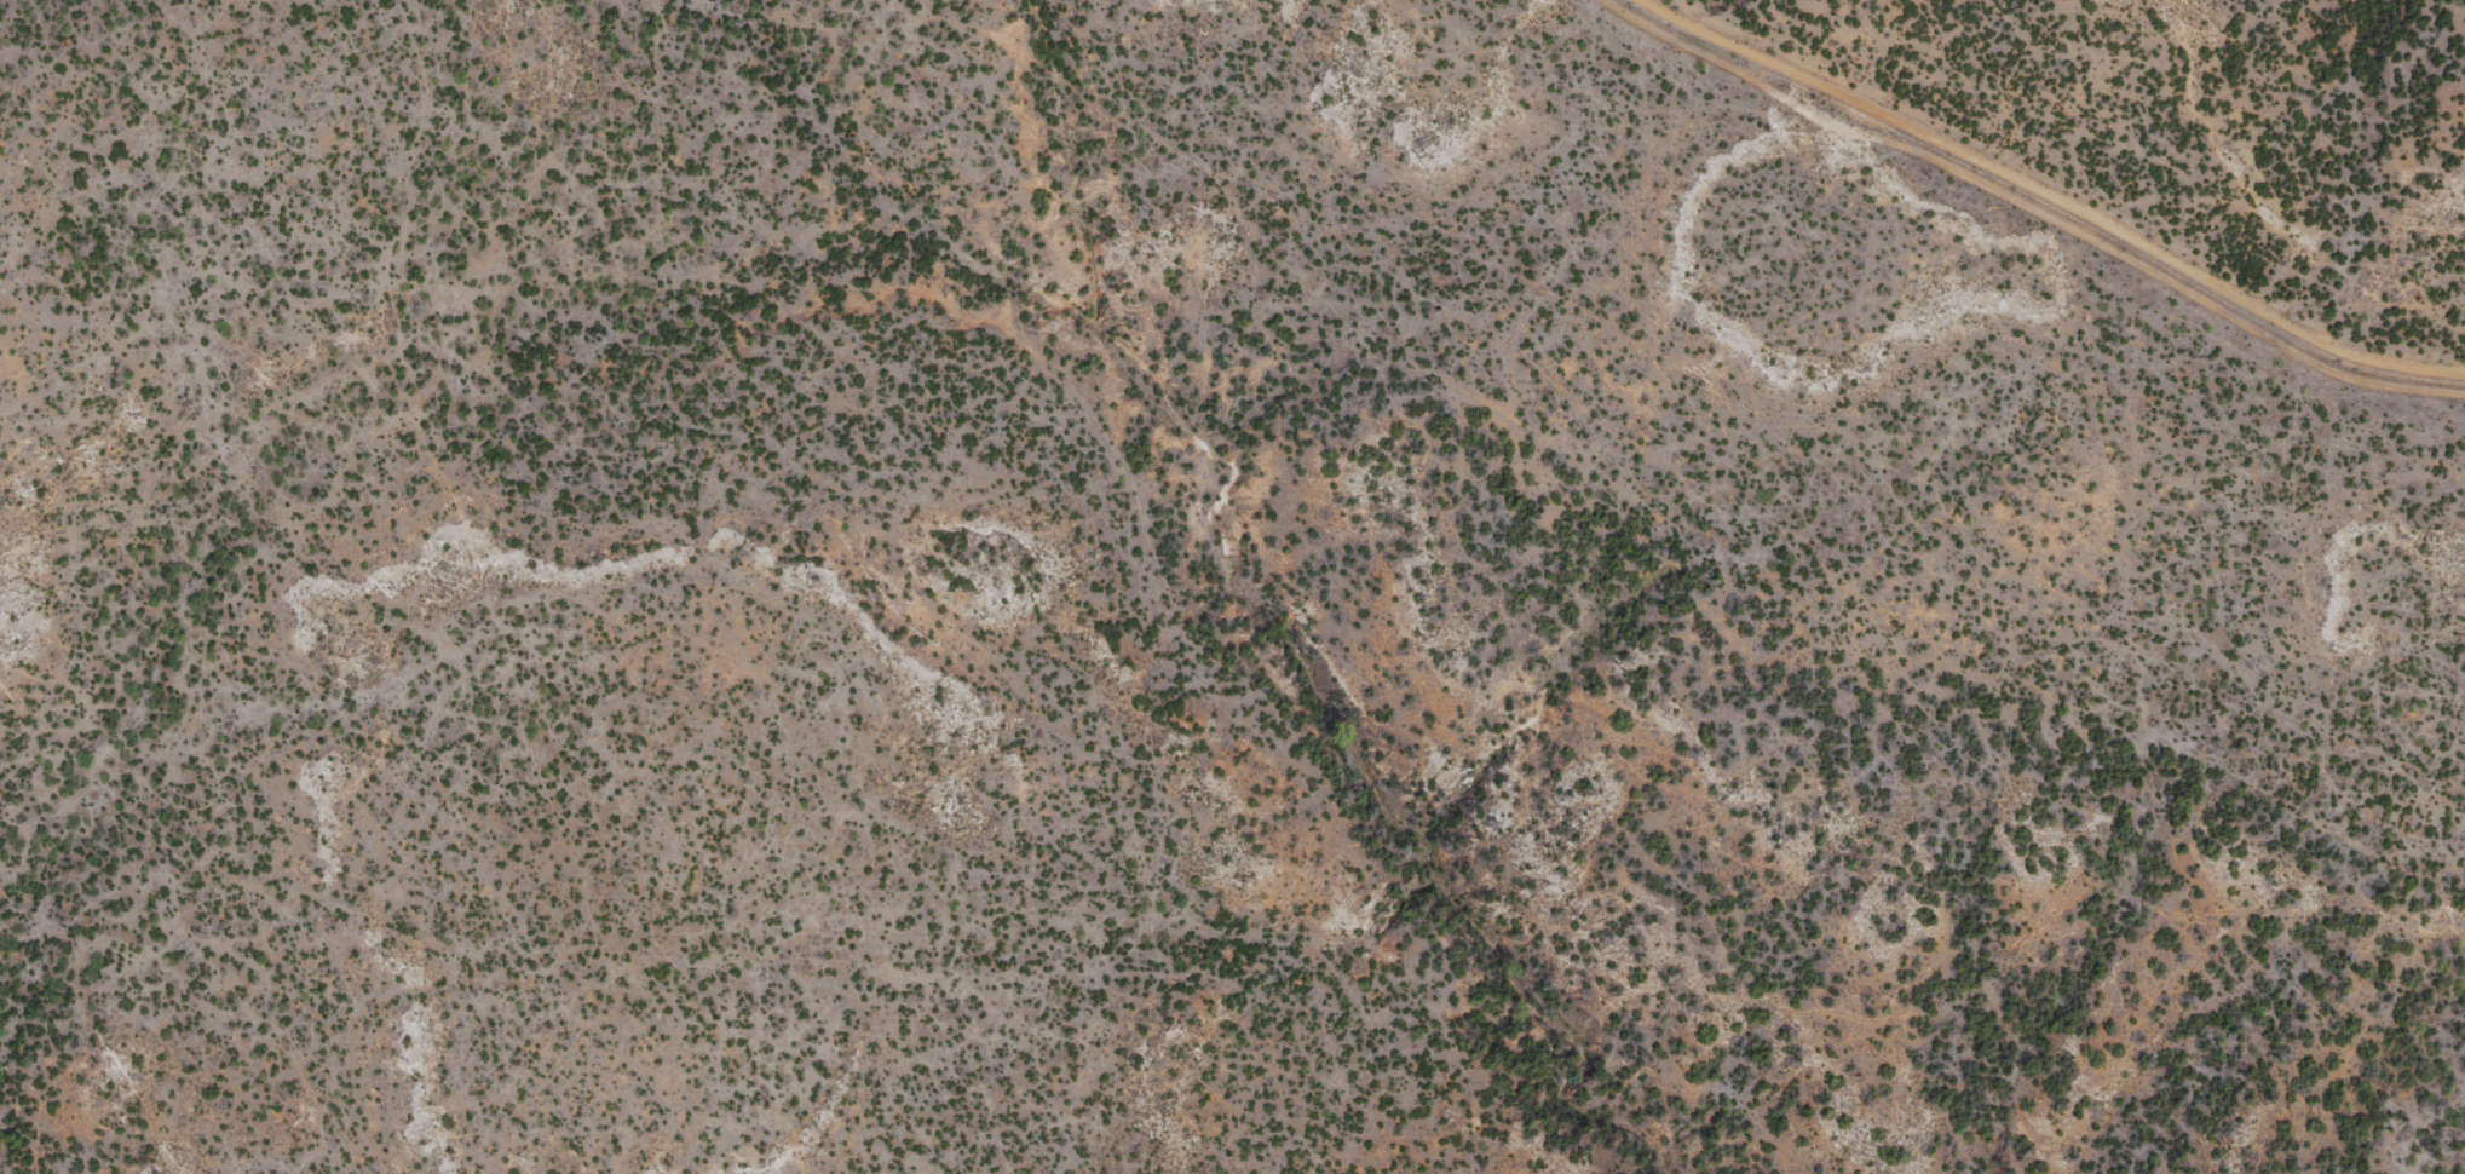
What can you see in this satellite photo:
road: (2060, 197)

